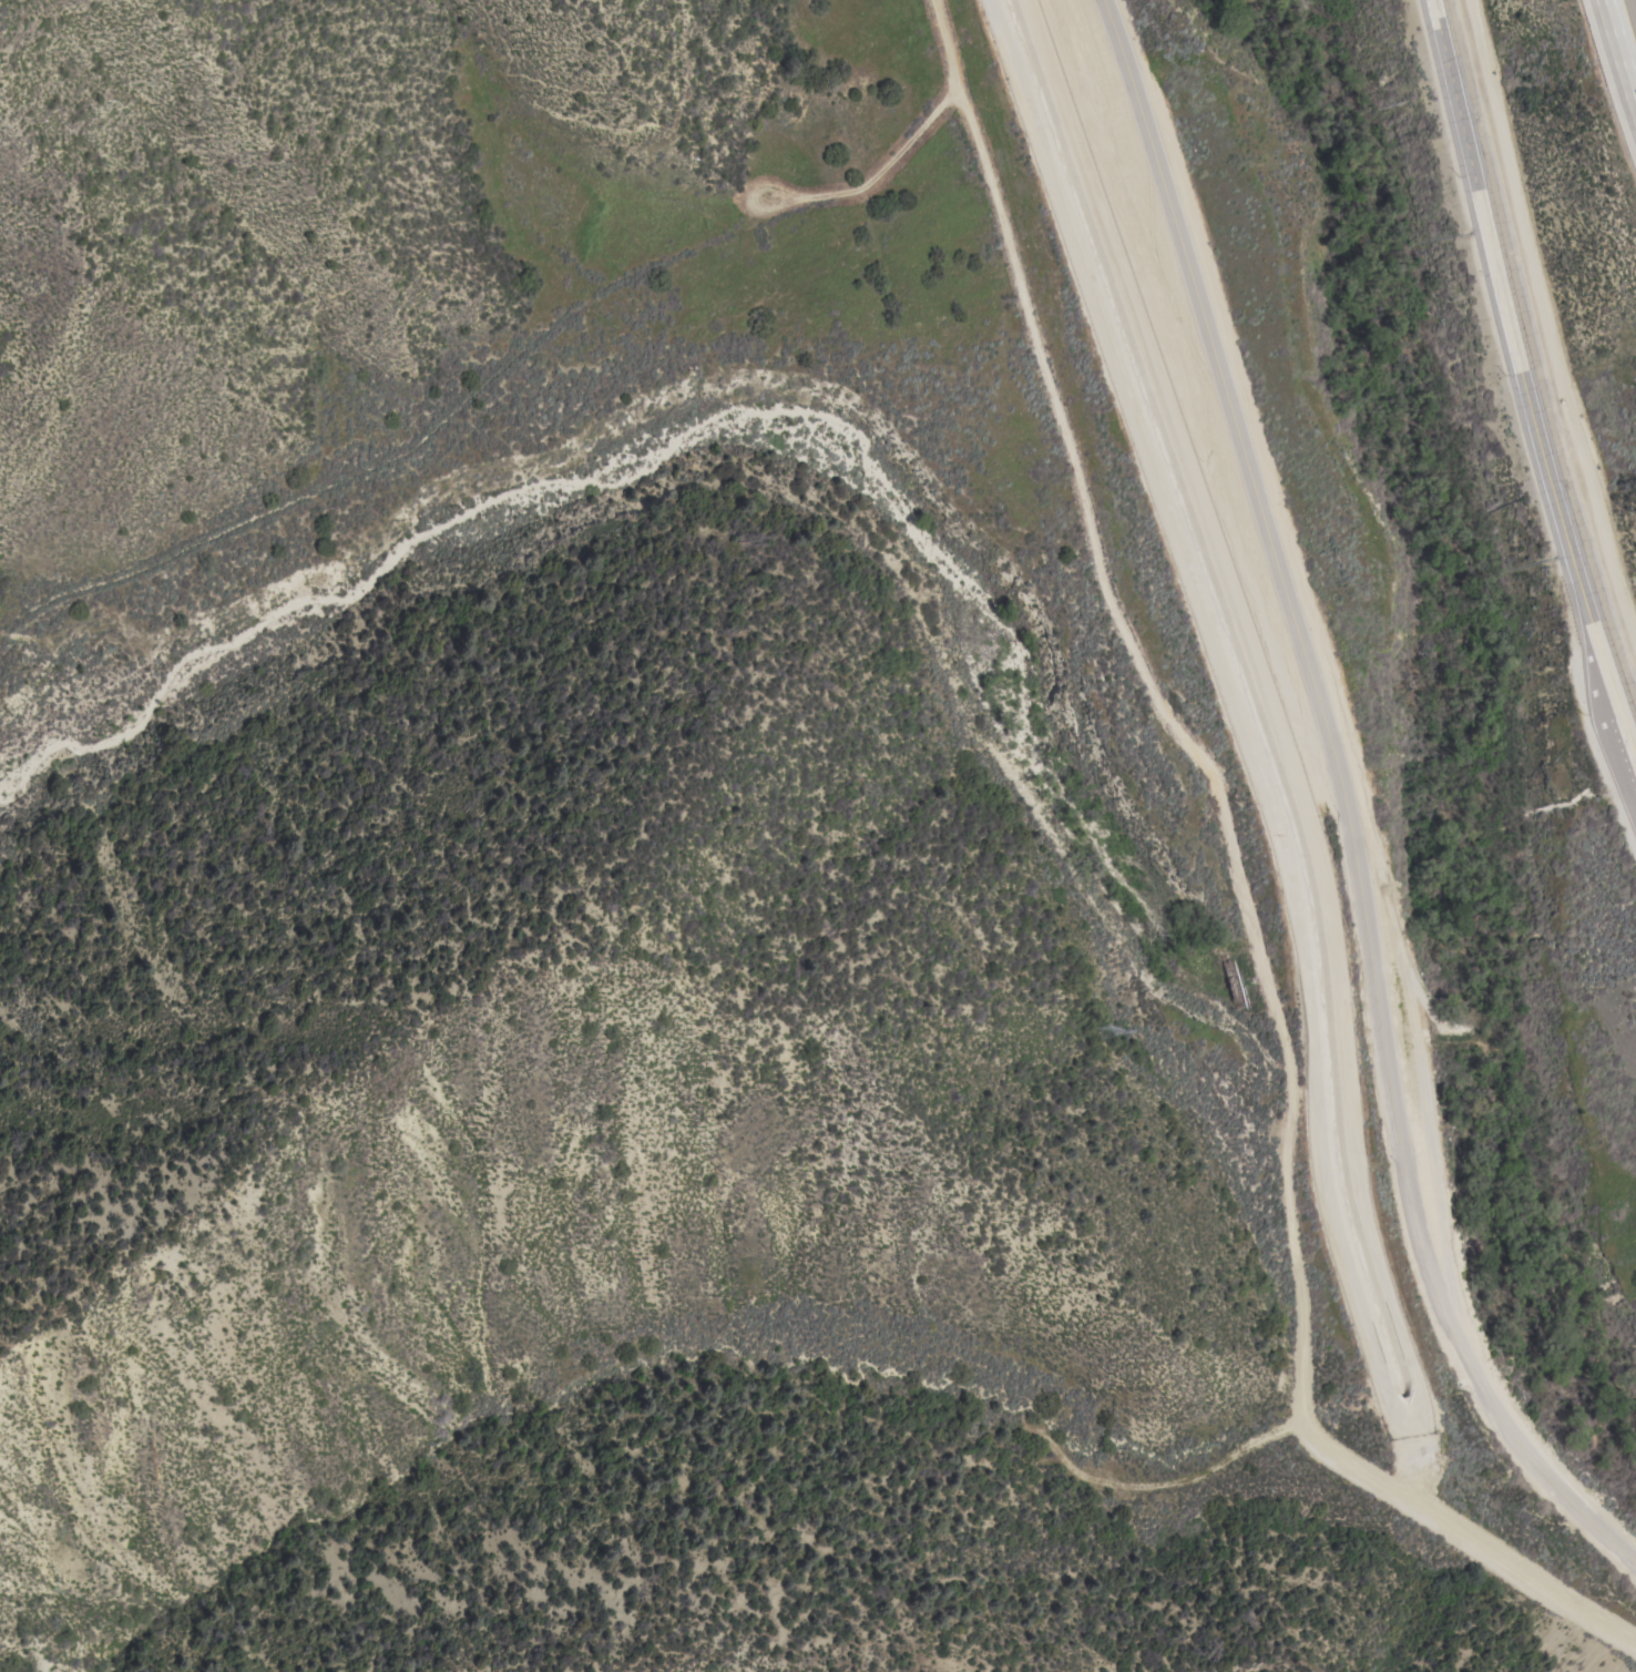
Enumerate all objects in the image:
road: (1618, 54)
road: (1550, 316)
road: (1525, 375)
road: (1348, 797)
power tower: (1113, 1042)

